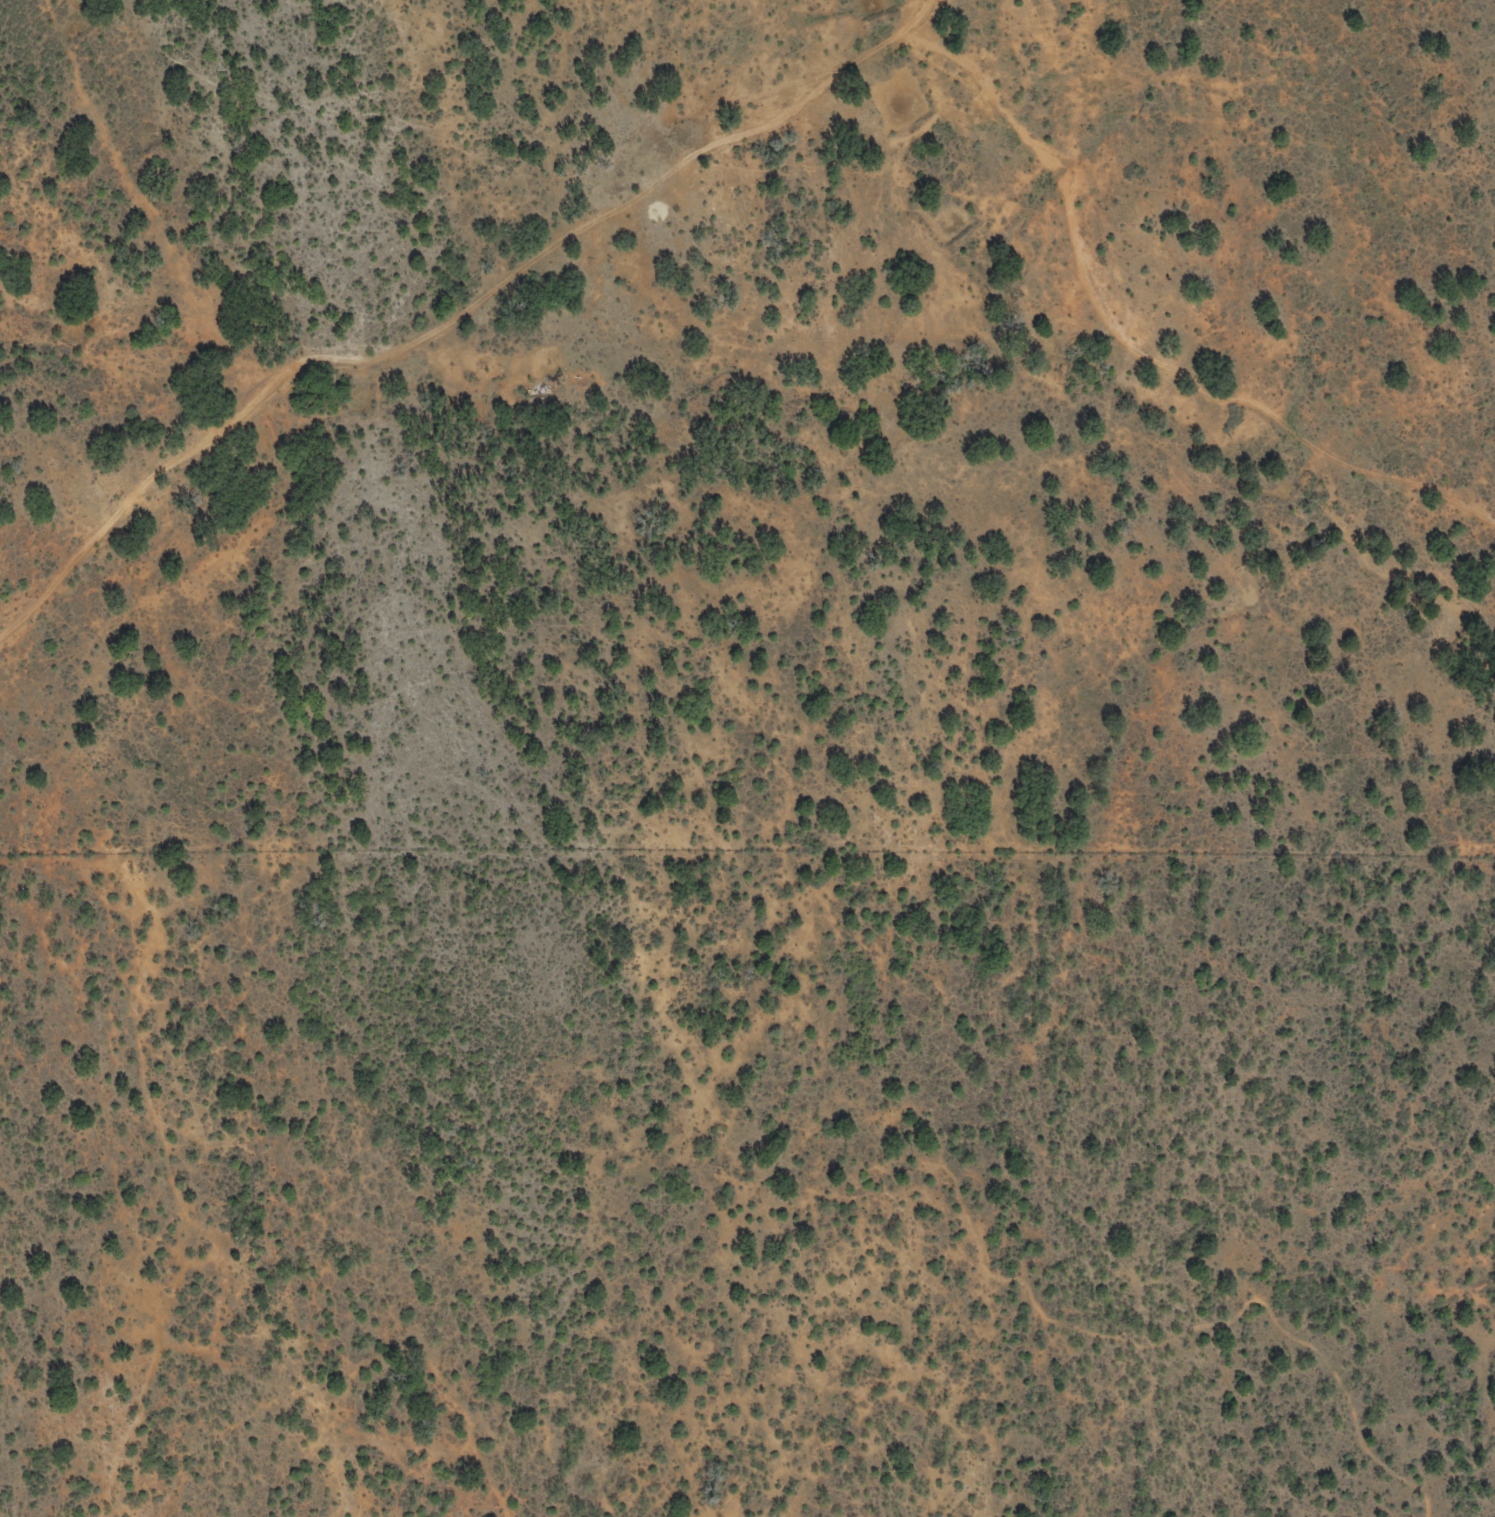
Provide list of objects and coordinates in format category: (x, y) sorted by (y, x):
road: (451, 364)

